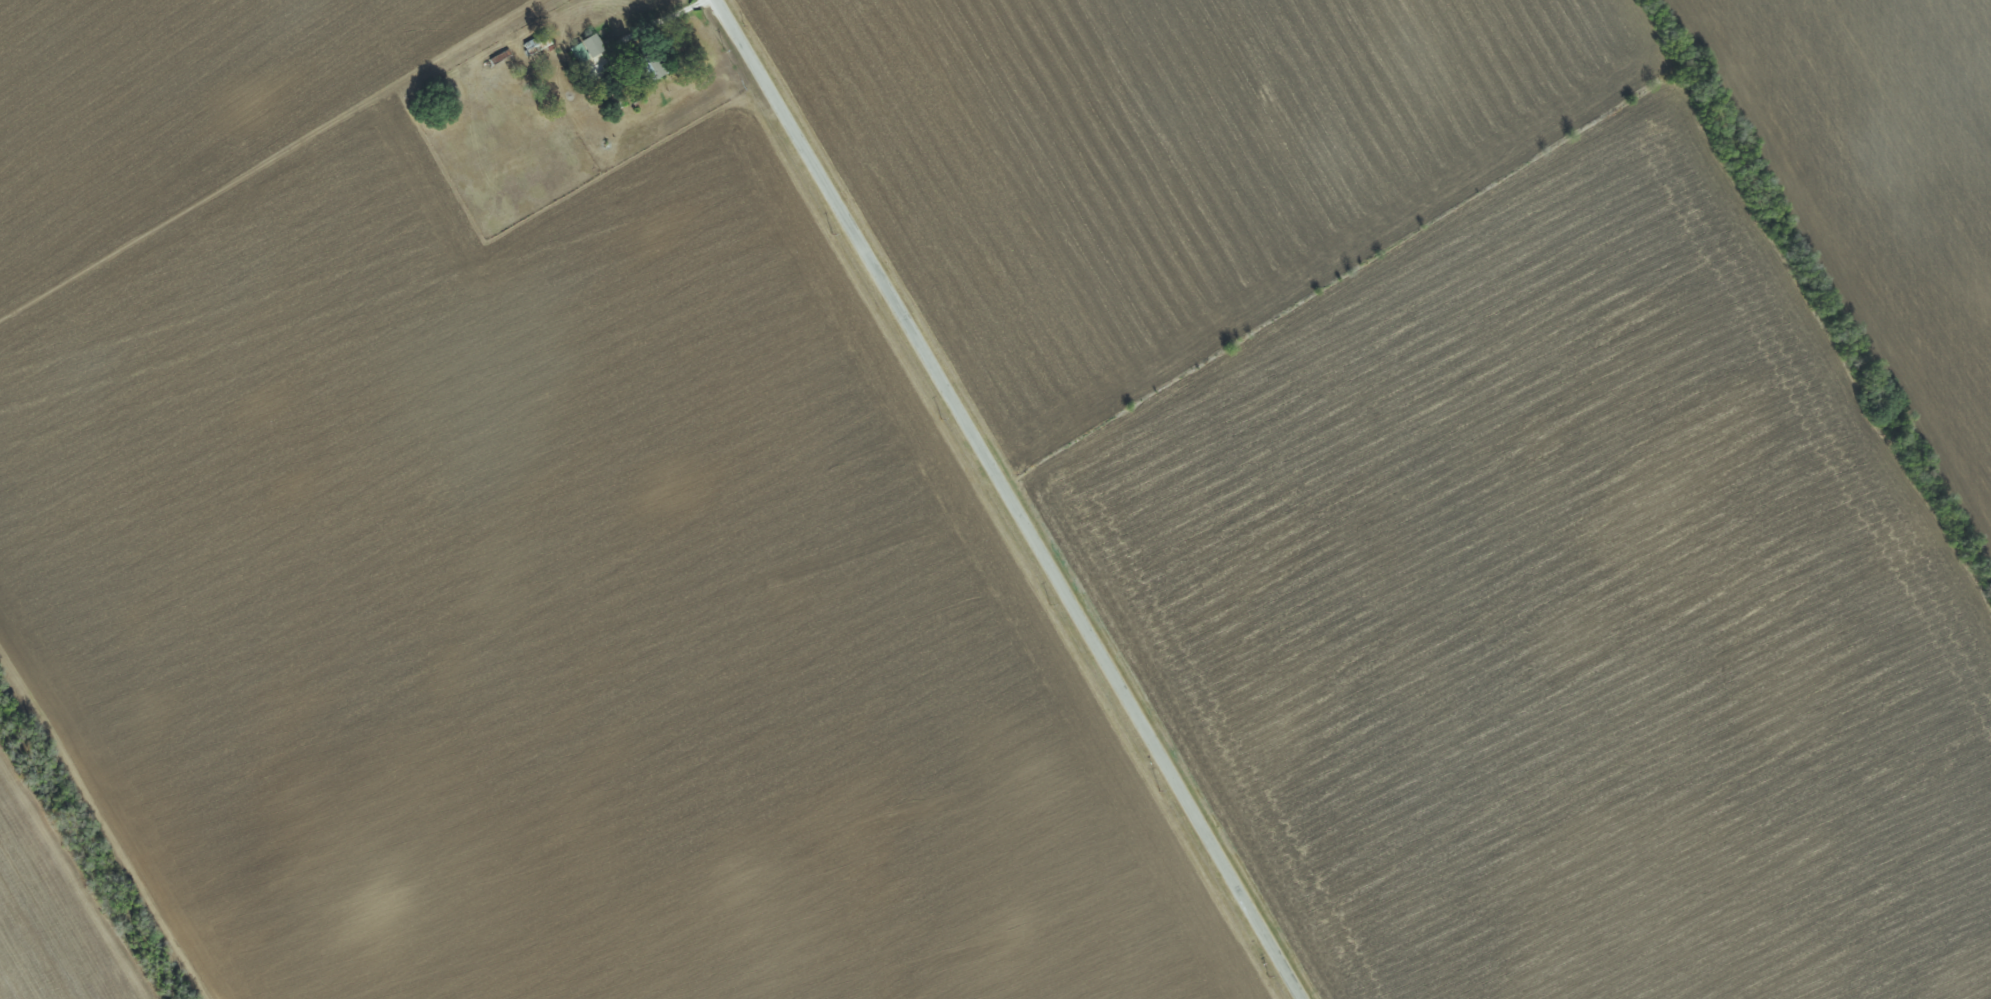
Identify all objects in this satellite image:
road: (652, 24)
building: (587, 48)
building: (649, 67)
road: (1011, 498)

